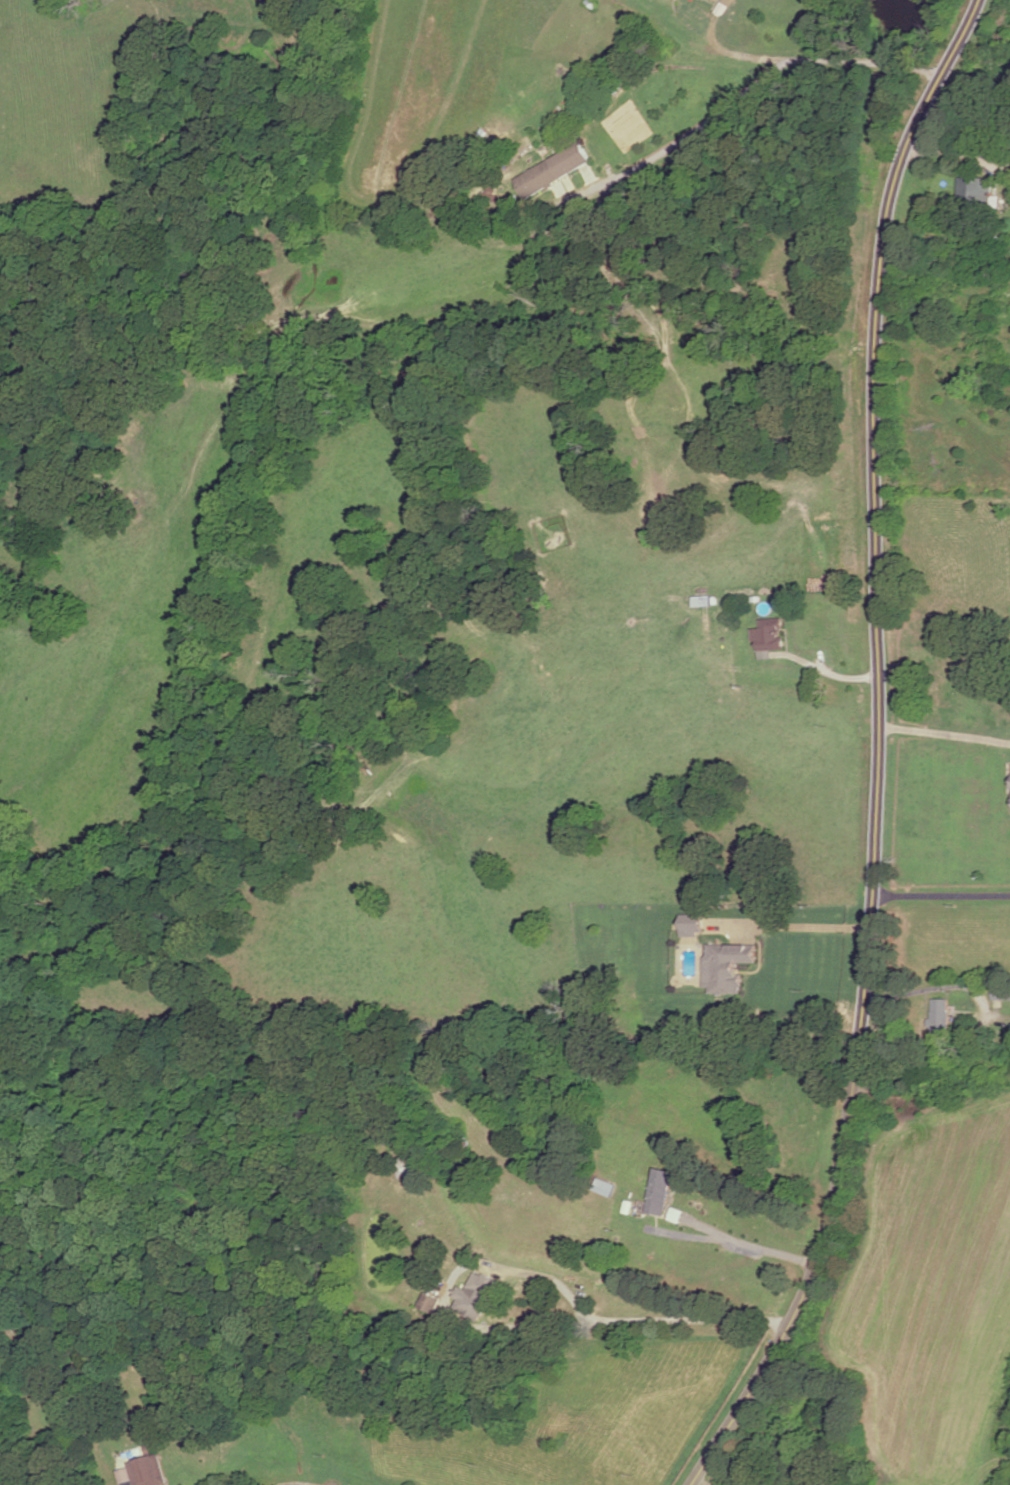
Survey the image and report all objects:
road: (736, 28)
road: (687, 44)
road: (845, 62)
road: (682, 141)
road: (959, 153)
building: (550, 171)
building: (973, 194)
building: (769, 636)
road: (821, 669)
road: (945, 733)
road: (881, 751)
road: (942, 888)
building: (694, 923)
road: (798, 928)
building: (728, 966)
road: (929, 988)
building: (1001, 991)
building: (941, 1015)
building: (402, 1168)
building: (605, 1188)
building: (660, 1192)
road: (753, 1244)
crop: (930, 1289)
building: (478, 1294)
building: (432, 1302)
road: (515, 1324)
building: (149, 1471)
road: (706, 1481)

